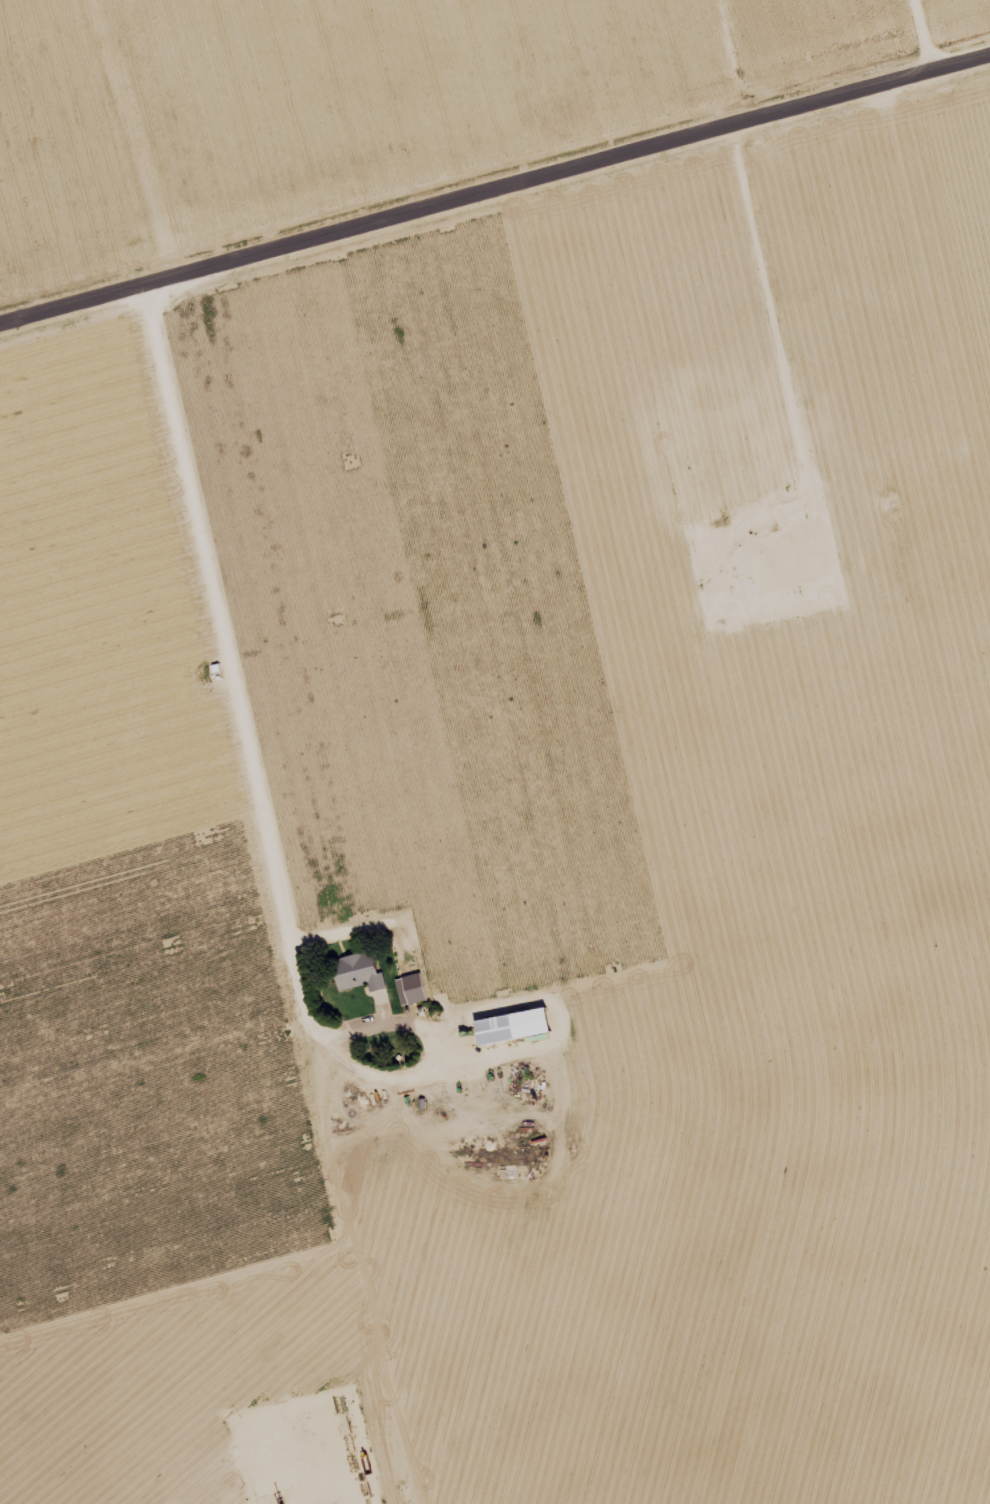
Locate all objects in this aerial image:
road: (923, 36)
road: (176, 72)
road: (494, 210)
road: (251, 738)
road: (61, 827)
building: (366, 970)
building: (416, 980)
building: (523, 1025)

